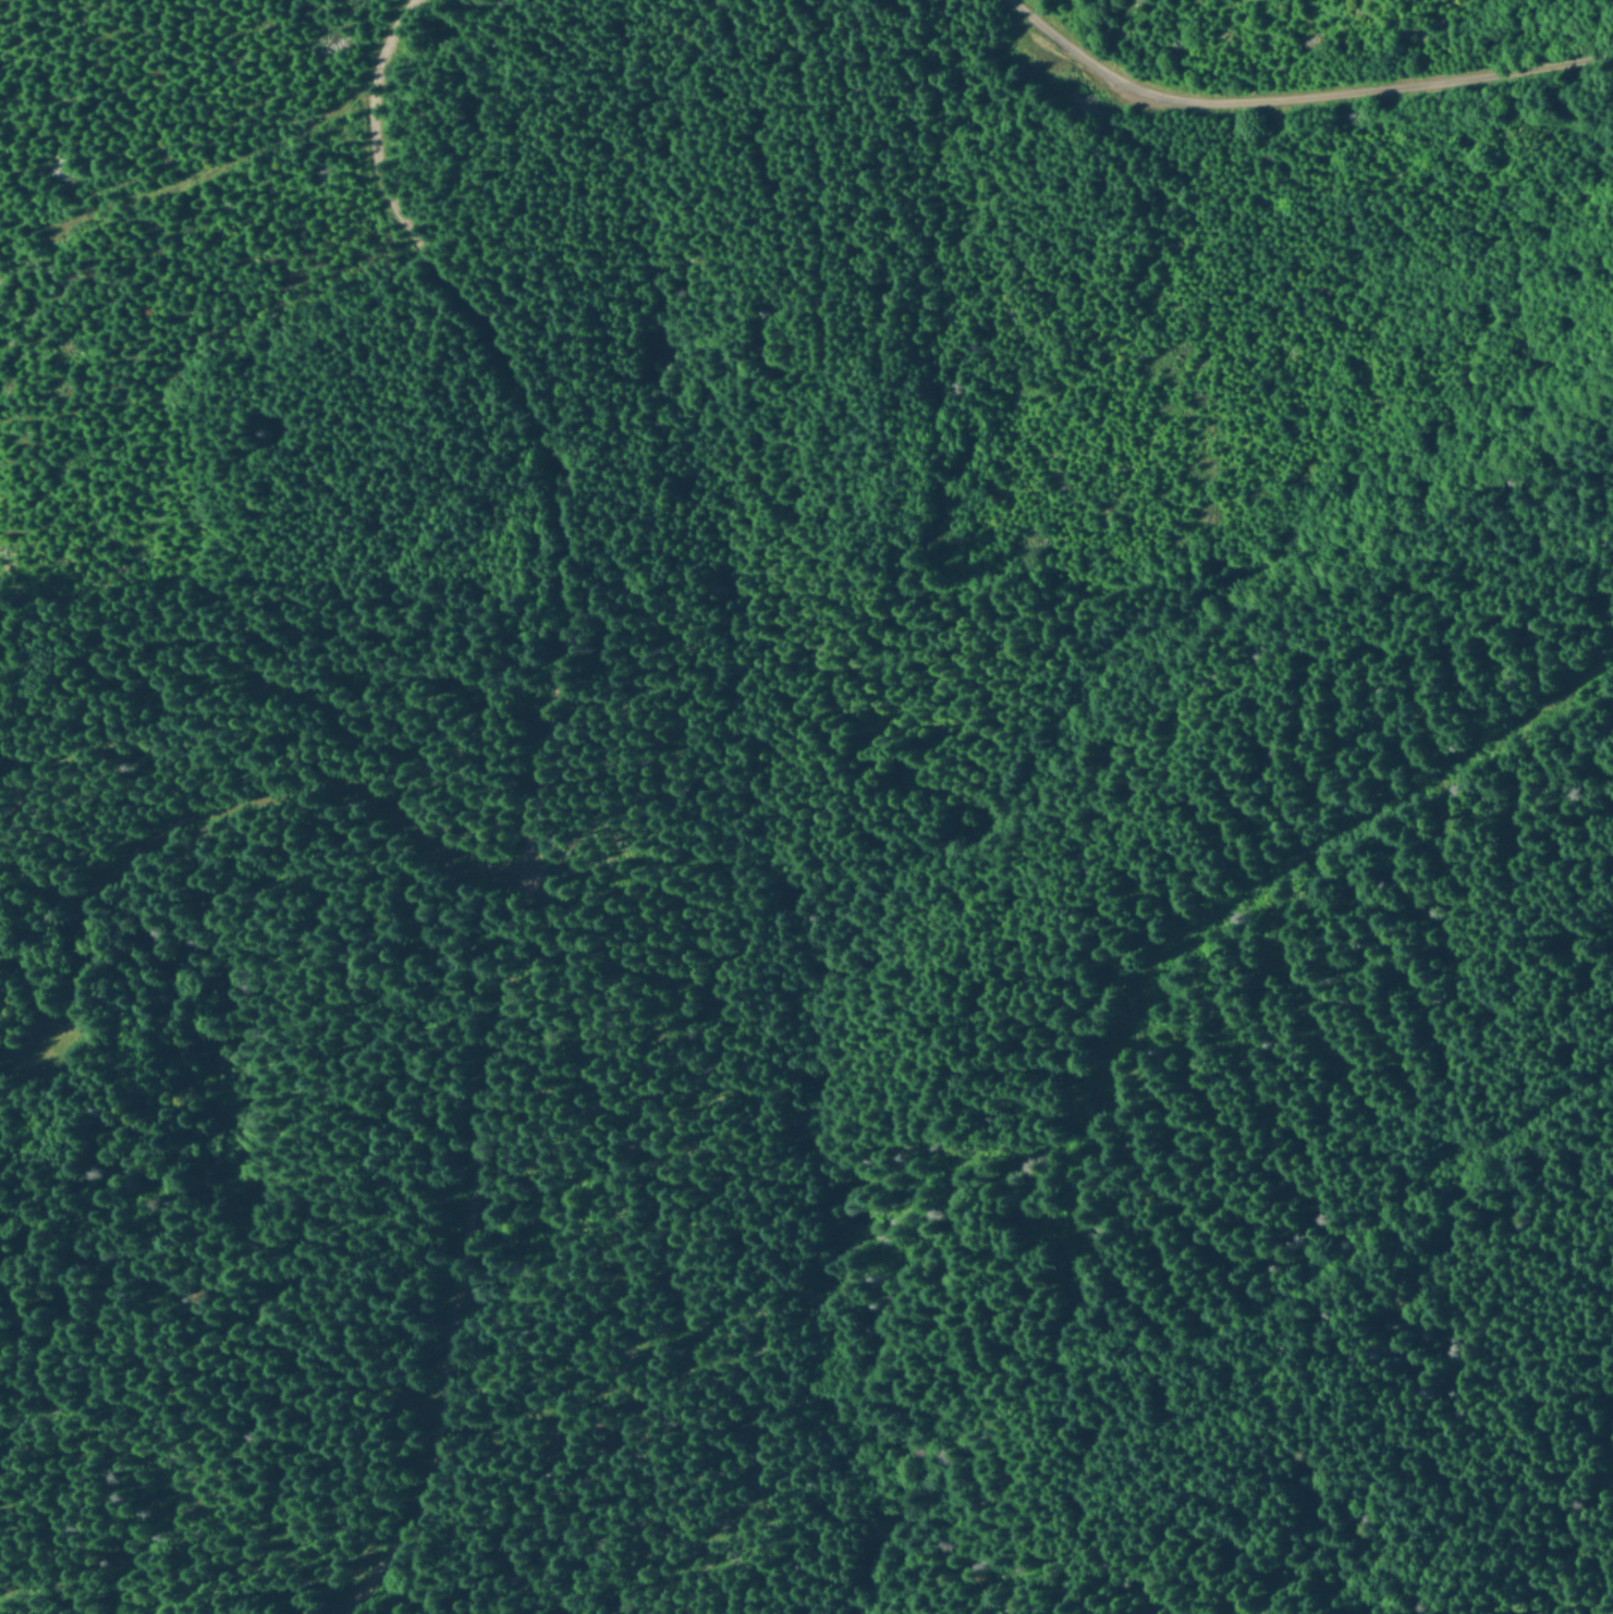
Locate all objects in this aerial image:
road: (1317, 106)
road: (509, 795)

